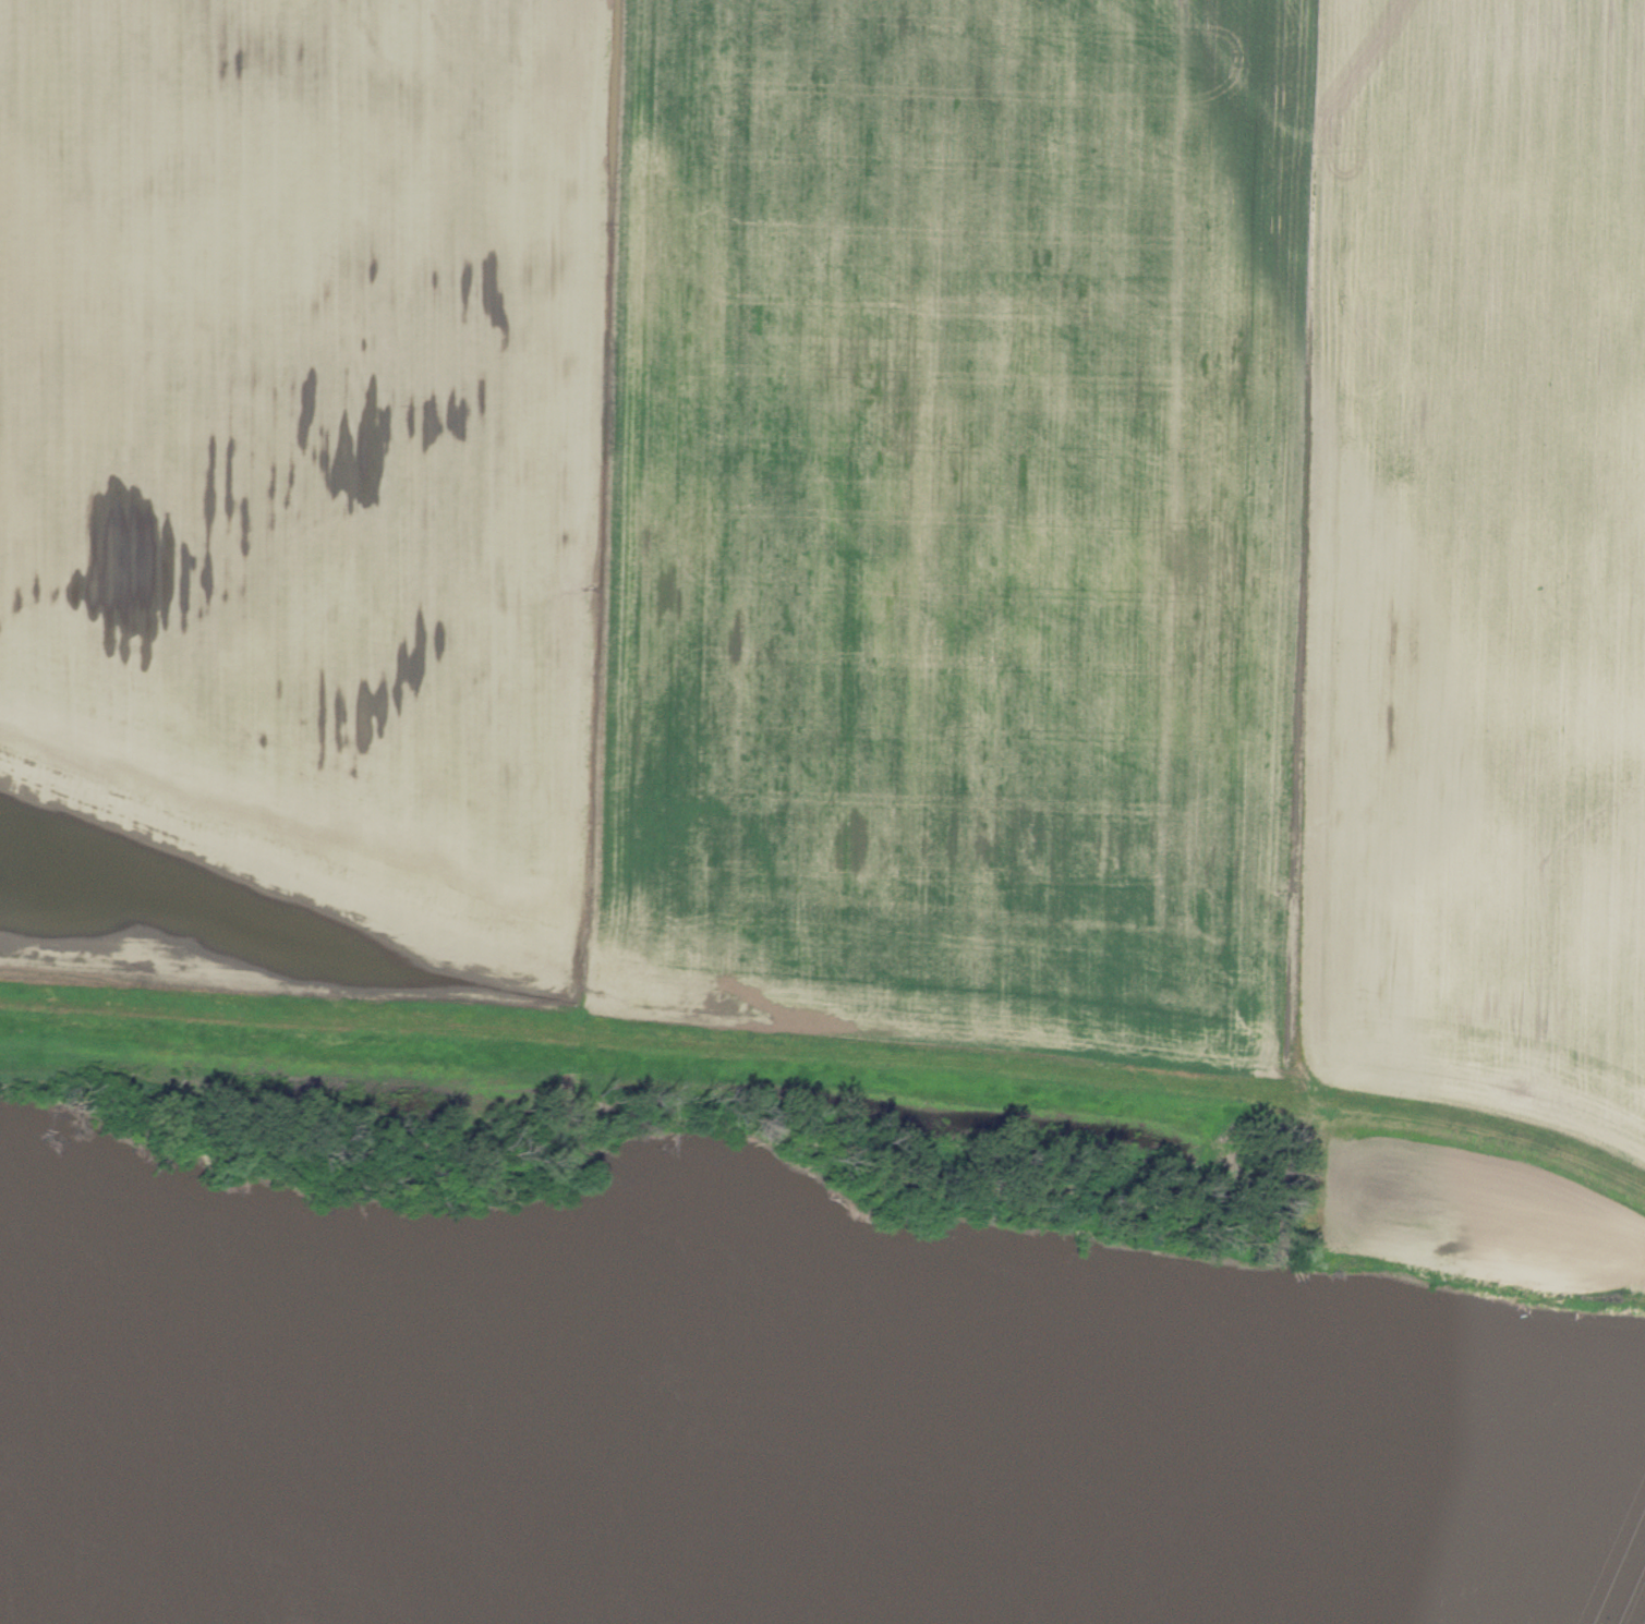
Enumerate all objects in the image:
river: (235, 1600)

